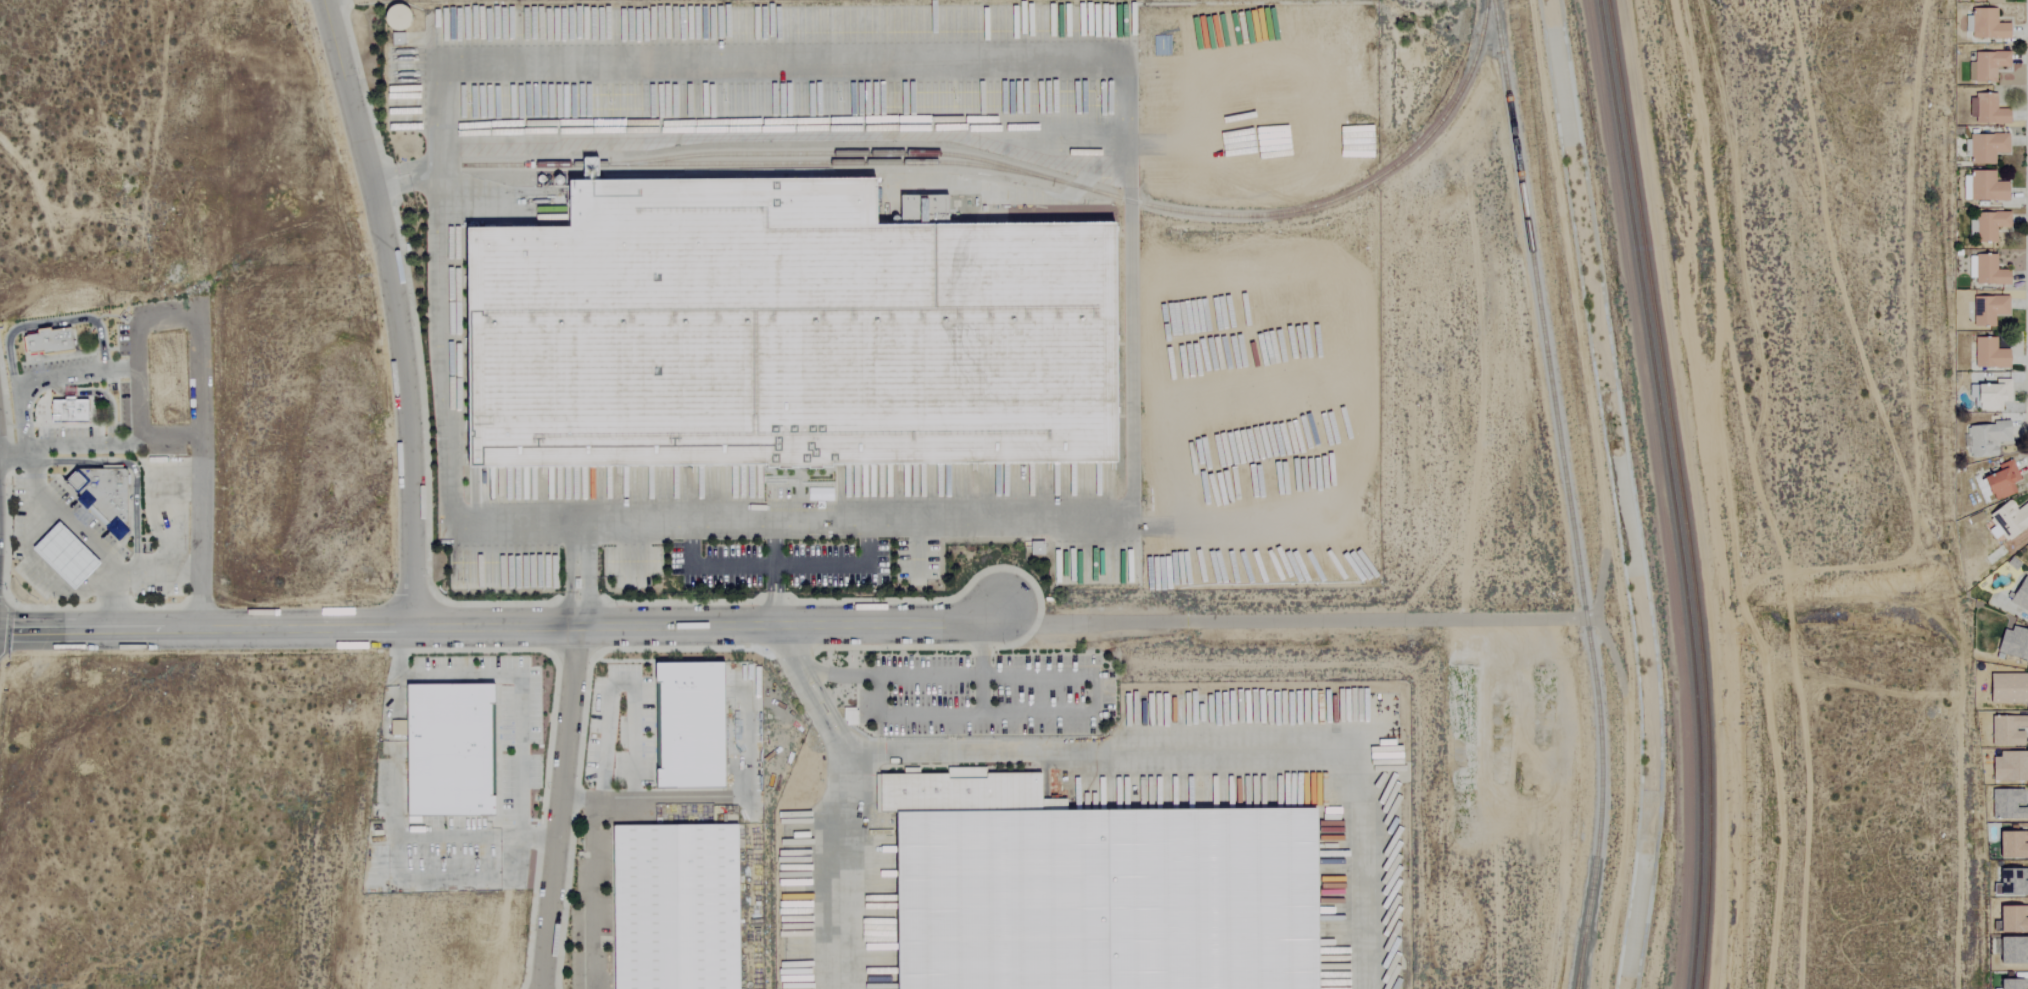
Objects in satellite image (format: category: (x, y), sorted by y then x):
building: (388, 17)
building: (1986, 25)
building: (1987, 65)
street lamp: (354, 75)
building: (1988, 110)
road: (1127, 115)
building: (1985, 147)
railway: (831, 153)
railway: (1032, 173)
building: (1981, 187)
building: (1988, 225)
building: (1985, 270)
road: (390, 308)
building: (1991, 309)
street lamp: (410, 328)
building: (781, 332)
building: (47, 342)
building: (1988, 354)
road: (132, 371)
road: (52, 384)
road: (69, 391)
building: (1988, 392)
road: (108, 407)
building: (68, 411)
road: (197, 421)
road: (444, 426)
road: (168, 433)
building: (1984, 438)
road: (182, 474)
road: (134, 475)
building: (1999, 481)
railway: (1670, 492)
railway: (1680, 492)
railway: (1566, 493)
road: (1761, 493)
building: (100, 496)
building: (2008, 519)
road: (168, 520)
road: (75, 526)
road: (690, 537)
parking lot: (98, 538)
building: (1035, 549)
building: (63, 556)
gas station: (63, 556)
road: (162, 566)
road: (842, 568)
street lamp: (427, 575)
building: (2019, 595)
road: (773, 602)
street lamp: (614, 606)
road: (773, 613)
road: (1288, 619)
road: (588, 624)
road: (98, 628)
building: (2012, 644)
street lamp: (1005, 645)
street lamp: (747, 648)
street lamp: (453, 650)
street lamp: (508, 655)
street lamp: (433, 656)
street lamp: (471, 656)
road: (980, 668)
road: (1090, 673)
street lamp: (604, 675)
street lamp: (642, 675)
road: (617, 680)
road: (807, 683)
road: (519, 689)
building: (2007, 689)
street lamp: (541, 691)
parking lot: (985, 693)
street lamp: (624, 695)
building: (847, 717)
building: (693, 725)
street lamp: (540, 729)
building: (2011, 730)
street lamp: (598, 736)
building: (451, 751)
street lamp: (626, 751)
street lamp: (541, 766)
building: (2009, 767)
street lamp: (593, 788)
street lamp: (625, 788)
building: (962, 791)
building: (2007, 805)
road: (558, 807)
street lamp: (530, 816)
road: (843, 864)
building: (1999, 882)
building: (2015, 883)
road: (594, 896)
building: (1107, 899)
building: (675, 907)
building: (2023, 908)
building: (2009, 921)
building: (2011, 951)
railway: (1579, 962)
building: (2011, 984)

